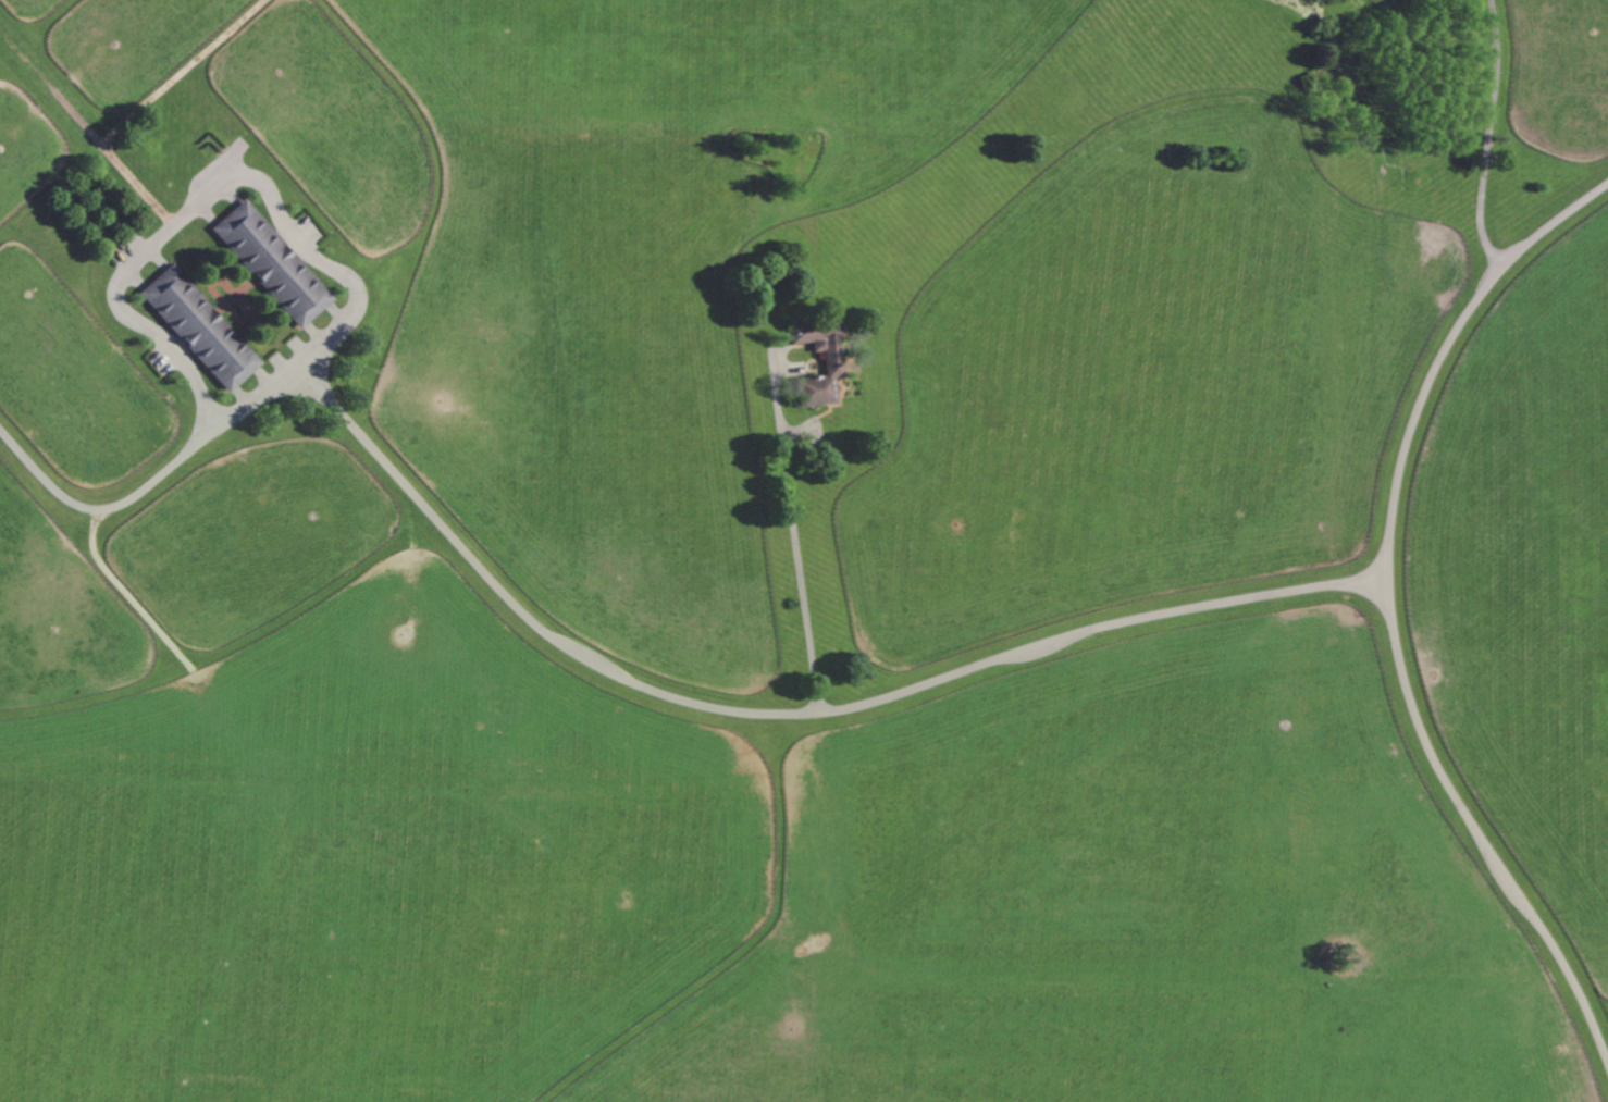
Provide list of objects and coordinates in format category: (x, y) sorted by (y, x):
road: (1492, 137)
road: (208, 188)
building: (833, 363)
road: (796, 549)
road: (1390, 610)
road: (610, 668)

